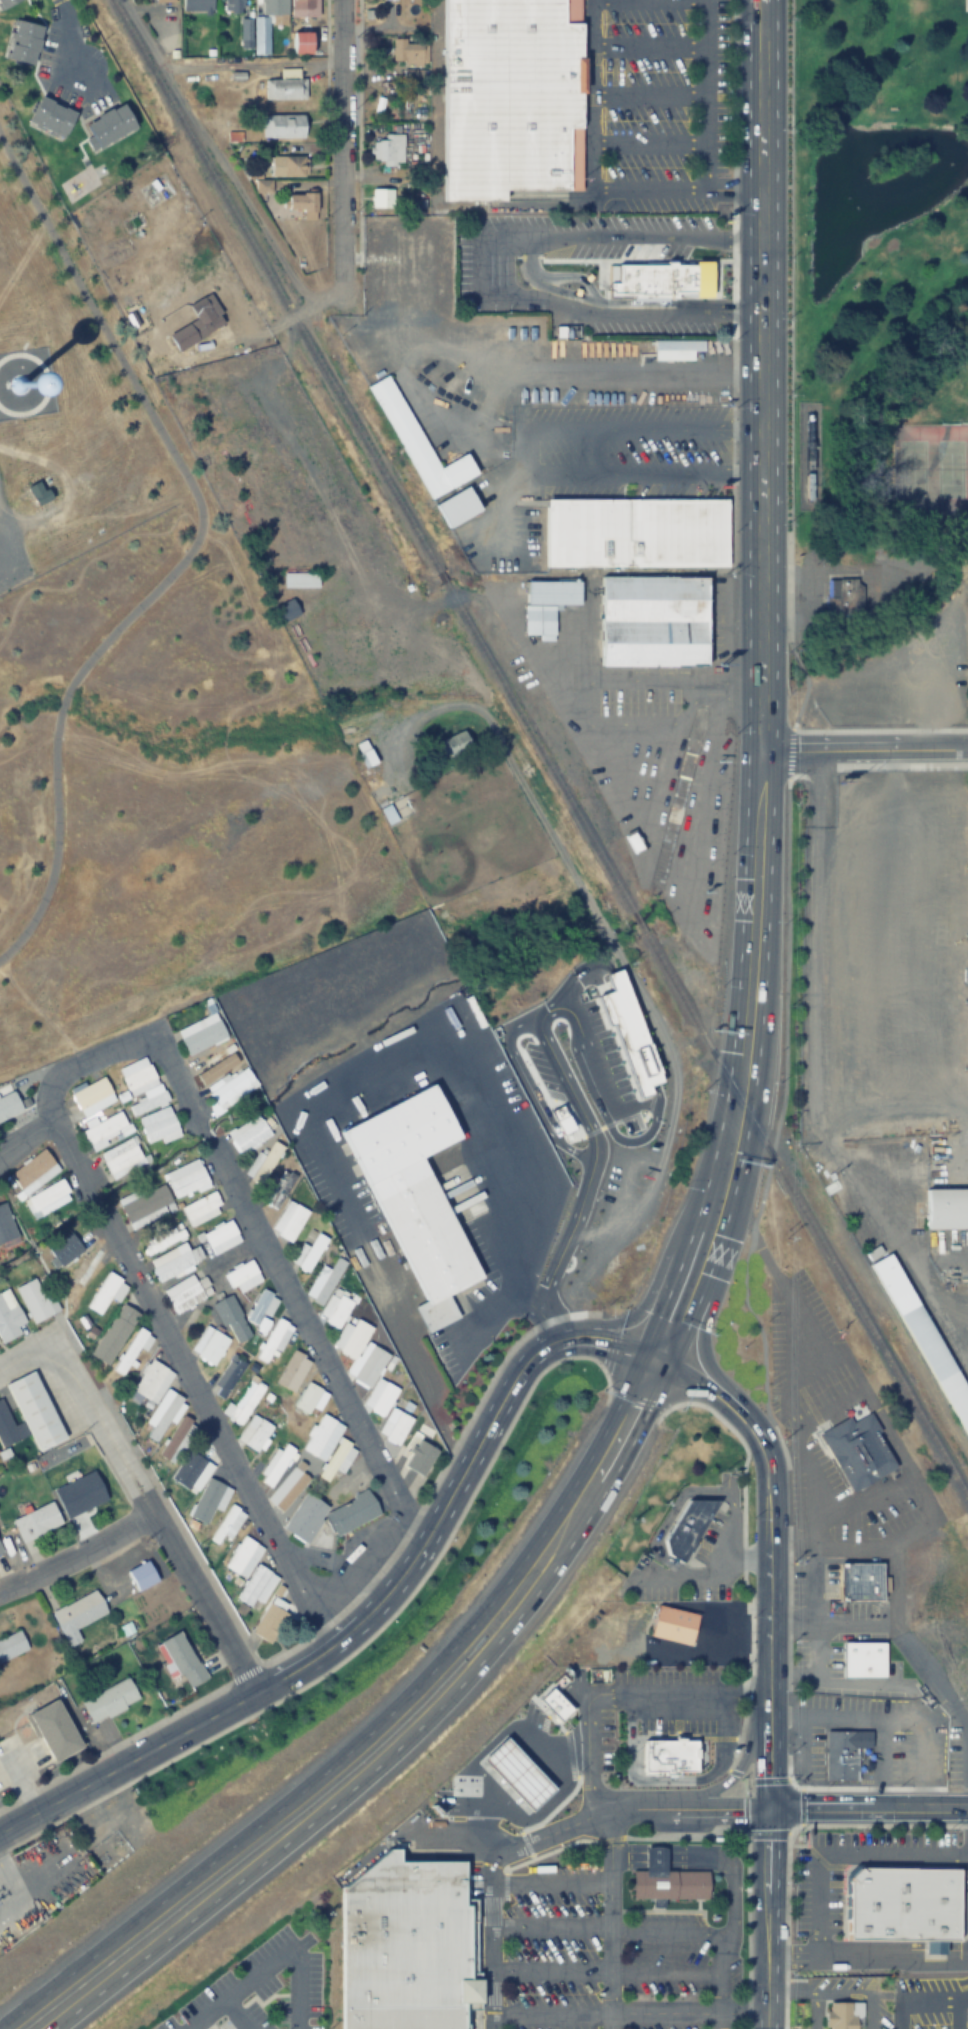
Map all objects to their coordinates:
building: (163, 1)
building: (6, 3)
building: (196, 5)
building: (232, 6)
building: (966, 6)
building: (272, 8)
building: (303, 8)
building: (259, 36)
building: (24, 42)
building: (302, 43)
road: (324, 46)
building: (407, 52)
road: (328, 60)
building: (285, 87)
building: (510, 97)
building: (52, 116)
building: (108, 126)
building: (286, 127)
road: (339, 136)
building: (387, 149)
road: (213, 155)
building: (287, 167)
building: (380, 198)
building: (301, 202)
park: (870, 243)
building: (645, 276)
road: (302, 308)
building: (197, 319)
road: (787, 325)
building: (677, 350)
road: (759, 358)
building: (417, 444)
railway: (370, 454)
road: (559, 459)
park: (926, 469)
building: (811, 479)
building: (37, 492)
building: (467, 503)
building: (635, 533)
road: (190, 553)
building: (300, 580)
building: (840, 597)
building: (547, 605)
building: (286, 611)
building: (654, 621)
road: (797, 664)
road: (574, 672)
road: (799, 703)
building: (453, 742)
road: (864, 752)
road: (788, 753)
building: (365, 754)
park: (165, 790)
building: (633, 841)
railway: (637, 920)
road: (785, 960)
building: (619, 977)
road: (636, 981)
building: (573, 982)
building: (201, 1034)
building: (572, 1042)
park: (891, 1044)
road: (758, 1047)
building: (225, 1081)
building: (141, 1086)
building: (590, 1087)
building: (93, 1097)
building: (8, 1103)
building: (159, 1127)
building: (105, 1132)
building: (250, 1134)
road: (771, 1155)
building: (123, 1158)
building: (32, 1169)
building: (187, 1180)
building: (280, 1189)
building: (415, 1196)
building: (49, 1198)
building: (146, 1204)
building: (947, 1208)
building: (202, 1210)
railway: (805, 1216)
building: (289, 1221)
building: (6, 1225)
road: (251, 1226)
building: (221, 1238)
building: (163, 1240)
building: (309, 1251)
building: (175, 1262)
building: (243, 1277)
building: (324, 1282)
building: (107, 1293)
building: (187, 1293)
building: (36, 1301)
building: (336, 1308)
road: (612, 1312)
building: (9, 1317)
road: (541, 1317)
building: (232, 1320)
building: (114, 1335)
building: (923, 1338)
road: (613, 1340)
building: (273, 1342)
building: (209, 1346)
building: (133, 1351)
road: (176, 1357)
road: (55, 1362)
traffic signals: (661, 1363)
road: (604, 1370)
building: (293, 1371)
building: (227, 1377)
building: (371, 1377)
road: (608, 1390)
road: (637, 1396)
building: (157, 1399)
building: (310, 1399)
building: (244, 1401)
road: (668, 1403)
building: (36, 1411)
building: (6, 1427)
building: (255, 1433)
road: (111, 1438)
building: (174, 1440)
building: (328, 1447)
building: (858, 1453)
building: (414, 1454)
road: (743, 1463)
building: (275, 1465)
building: (193, 1468)
road: (788, 1471)
road: (433, 1480)
building: (286, 1493)
building: (208, 1501)
road: (674, 1508)
building: (329, 1515)
building: (36, 1522)
building: (227, 1525)
building: (688, 1527)
building: (0, 1552)
road: (891, 1553)
road: (77, 1554)
building: (243, 1557)
road: (745, 1559)
road: (814, 1561)
building: (142, 1576)
road: (189, 1580)
building: (861, 1582)
building: (256, 1588)
road: (374, 1605)
building: (78, 1615)
building: (273, 1616)
building: (673, 1625)
road: (366, 1638)
building: (11, 1645)
road: (820, 1650)
building: (181, 1659)
building: (863, 1660)
road: (917, 1660)
road: (767, 1671)
road: (244, 1672)
building: (960, 1682)
road: (618, 1698)
building: (110, 1700)
building: (890, 1708)
road: (862, 1719)
building: (56, 1729)
road: (369, 1732)
road: (405, 1740)
road: (114, 1744)
road: (916, 1752)
building: (670, 1755)
building: (832, 1756)
road: (734, 1771)
road: (734, 1773)
road: (769, 1779)
road: (796, 1803)
road: (688, 1809)
road: (867, 1810)
traffic signals: (766, 1811)
road: (766, 1834)
road: (817, 1860)
road: (493, 1879)
road: (552, 1879)
building: (666, 1881)
road: (8, 1889)
building: (905, 1902)
road: (611, 1919)
parking lot: (633, 1923)
road: (551, 1926)
parking lot: (878, 1928)
road: (716, 1930)
building: (408, 1945)
road: (551, 1968)
road: (669, 1969)
building: (876, 1994)
road: (938, 1998)
road: (686, 2010)
road: (552, 2012)
building: (841, 2015)

